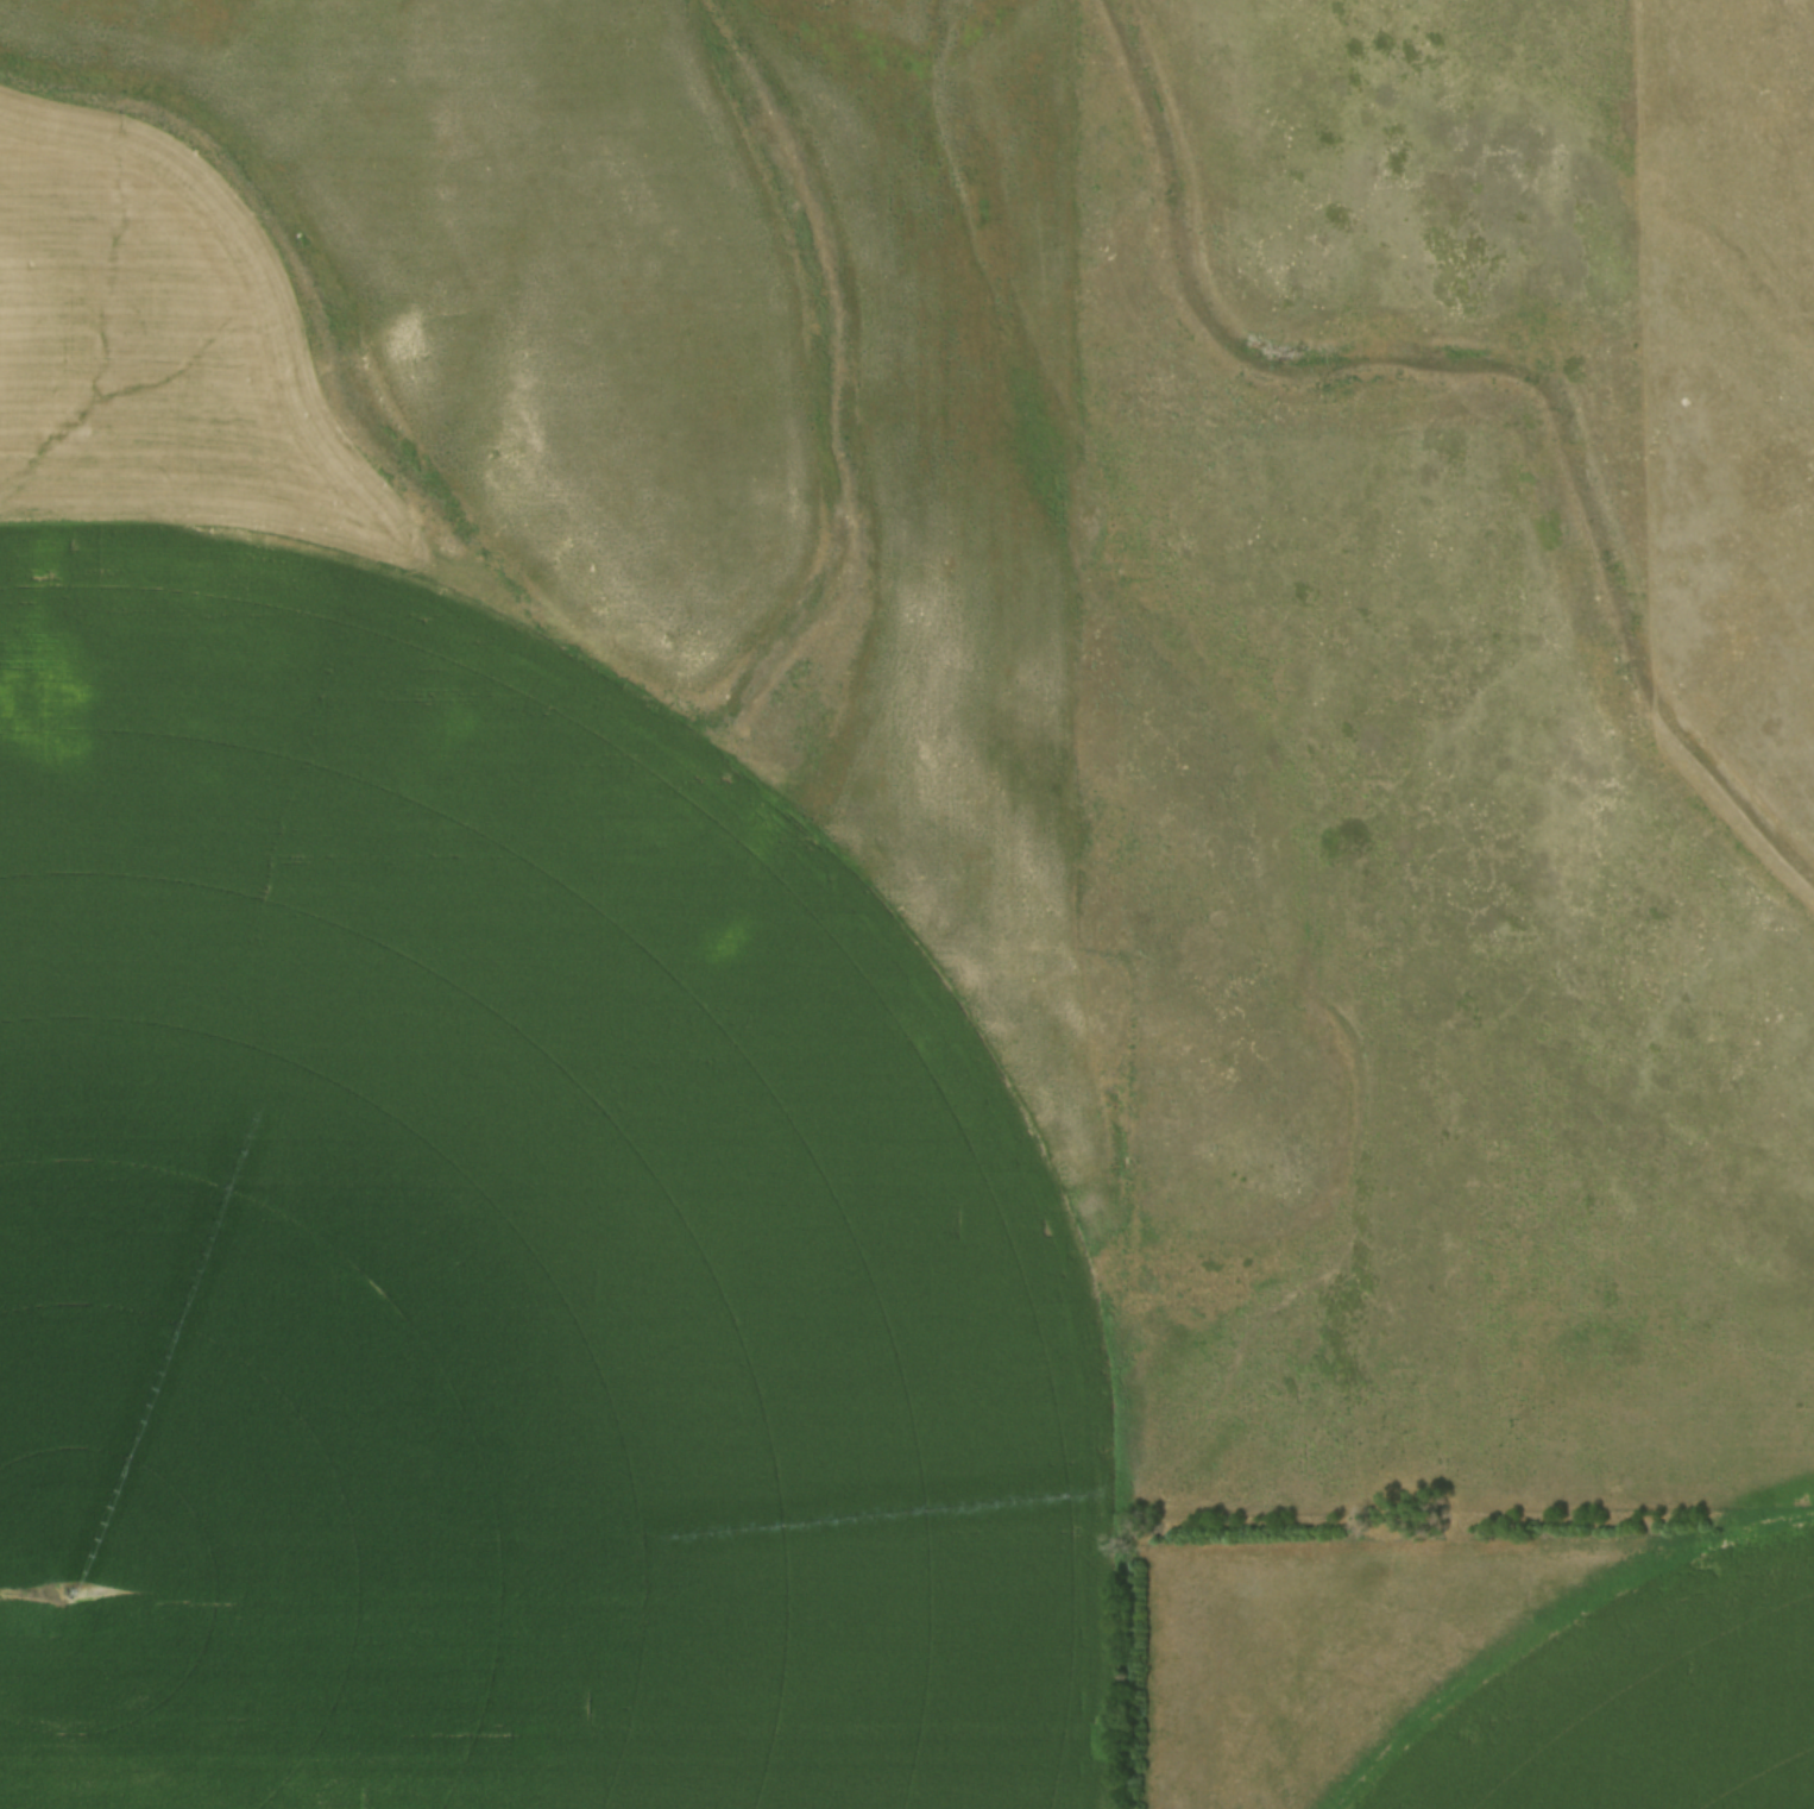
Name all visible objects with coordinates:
crop: (1639, 1694)

